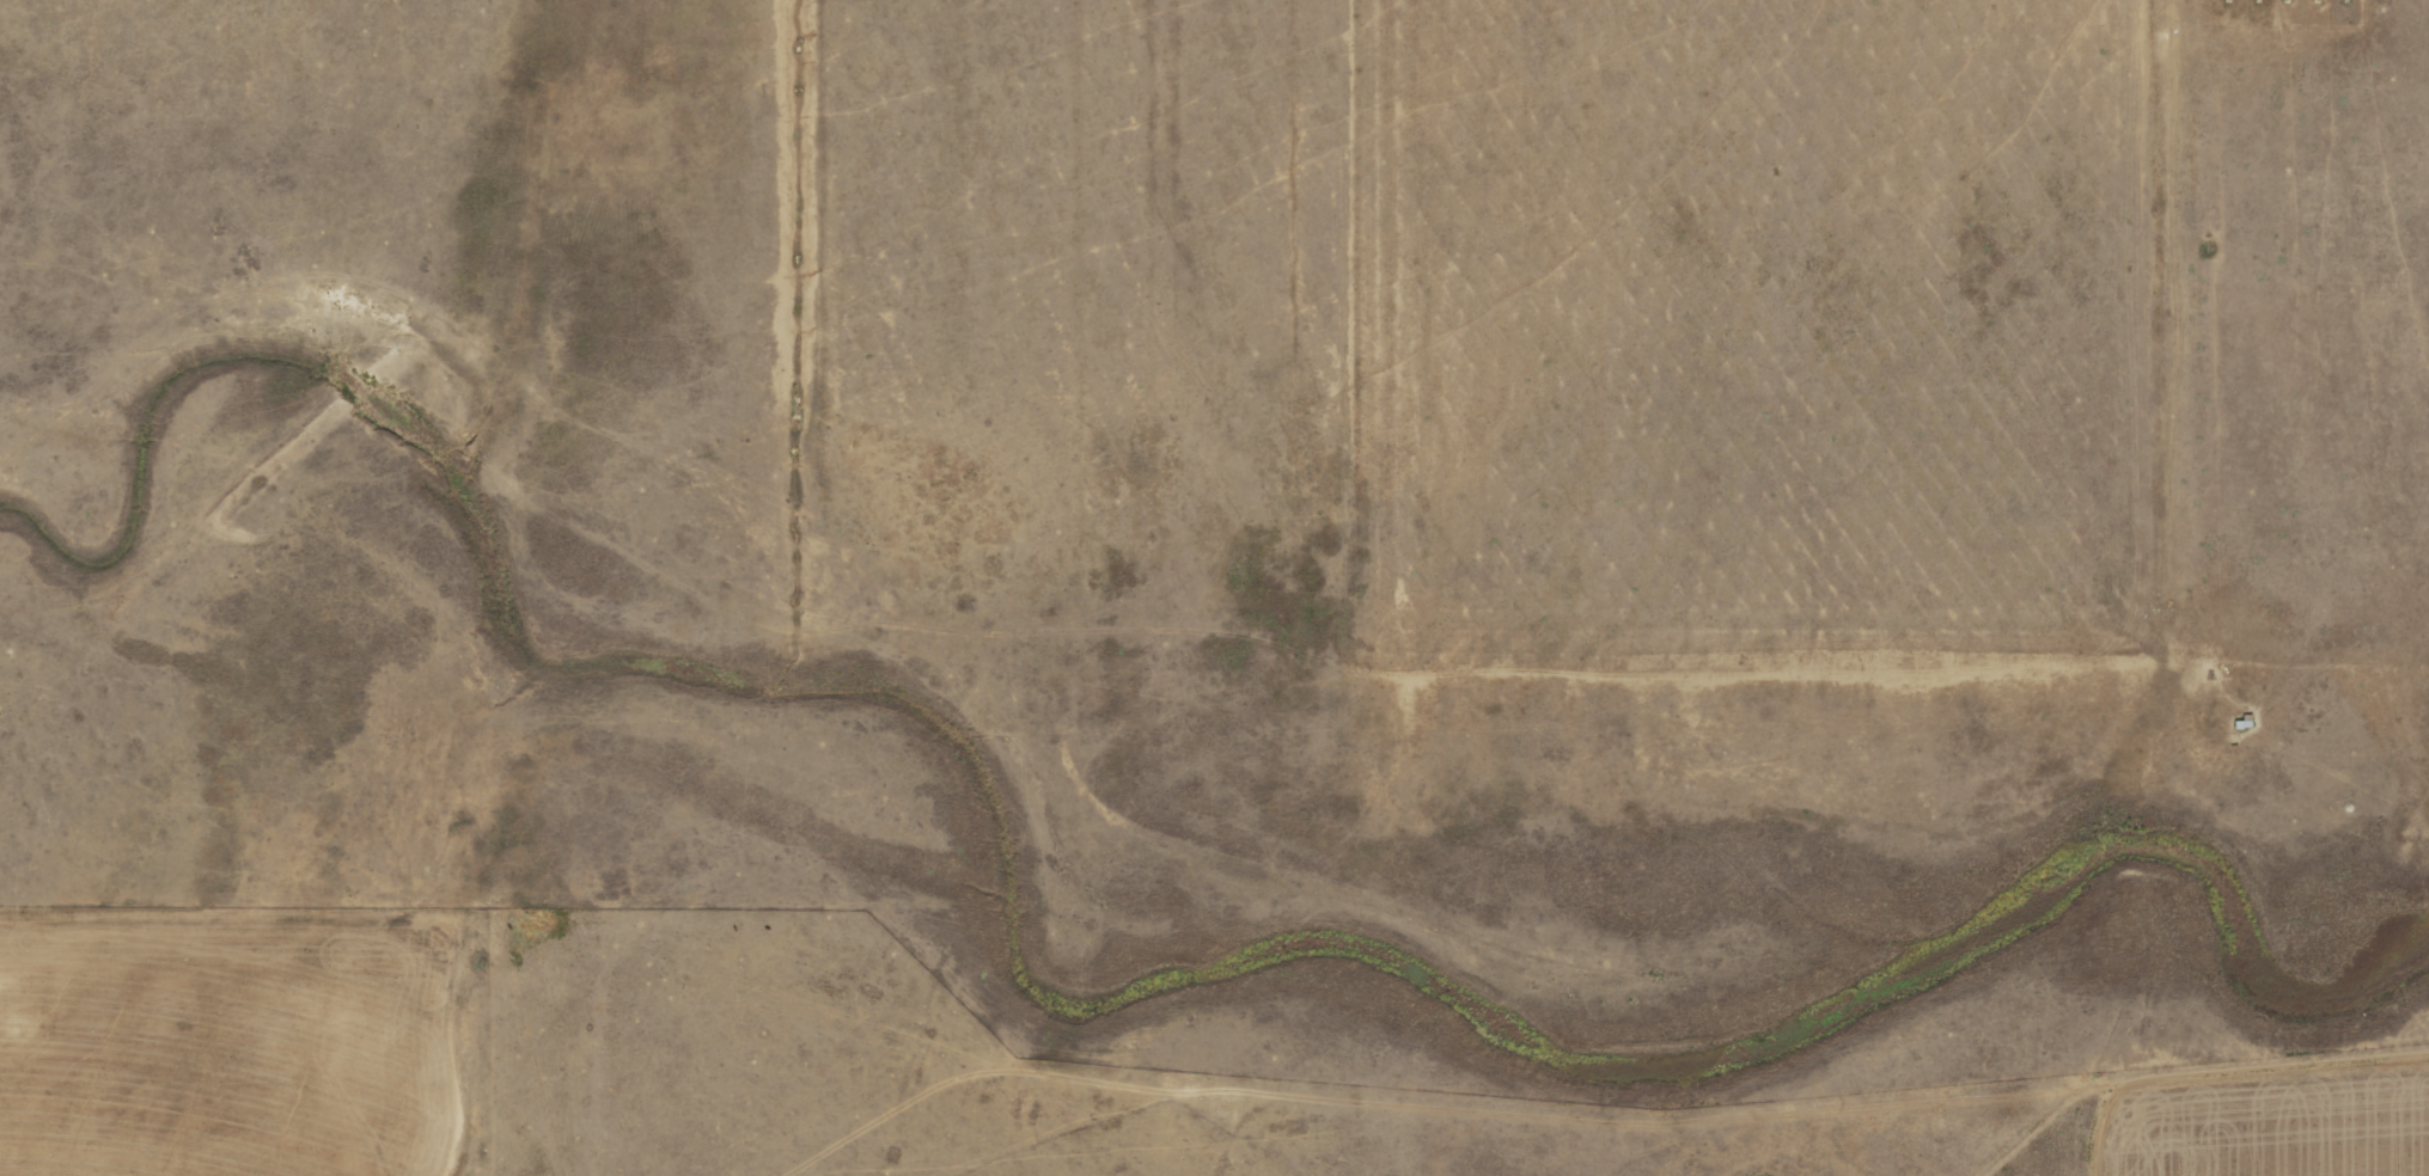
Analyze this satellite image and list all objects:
building: (2245, 722)

